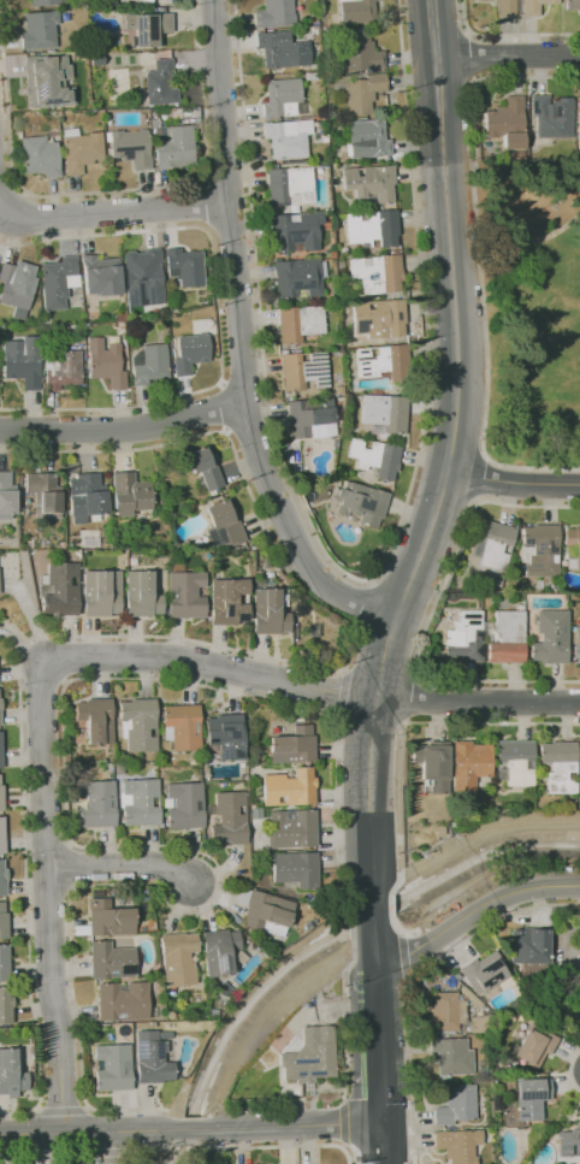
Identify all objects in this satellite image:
building: (48, 2)
building: (103, 2)
building: (573, 4)
building: (533, 6)
building: (505, 7)
building: (357, 11)
building: (274, 13)
building: (149, 28)
building: (40, 29)
road: (433, 30)
road: (508, 35)
building: (278, 49)
building: (359, 53)
road: (463, 55)
road: (507, 57)
building: (97, 59)
building: (282, 71)
building: (310, 76)
building: (48, 81)
building: (161, 83)
building: (362, 93)
building: (283, 98)
building: (60, 113)
building: (550, 120)
building: (508, 123)
building: (578, 124)
building: (325, 137)
building: (288, 138)
building: (369, 138)
building: (173, 144)
building: (131, 147)
building: (81, 149)
building: (40, 154)
building: (297, 161)
building: (320, 165)
building: (369, 184)
building: (289, 185)
road: (114, 190)
road: (206, 205)
road: (4, 207)
road: (251, 209)
road: (119, 211)
building: (374, 229)
building: (296, 230)
road: (519, 246)
road: (480, 261)
building: (187, 266)
building: (379, 274)
building: (101, 276)
building: (298, 277)
building: (143, 278)
building: (59, 282)
building: (17, 286)
building: (333, 300)
road: (422, 307)
building: (173, 311)
building: (345, 311)
park: (532, 312)
road: (217, 313)
building: (120, 317)
building: (380, 318)
building: (47, 319)
building: (160, 321)
building: (300, 323)
building: (61, 332)
road: (241, 339)
road: (457, 343)
building: (191, 353)
building: (23, 361)
building: (106, 362)
building: (150, 364)
building: (383, 365)
building: (63, 368)
building: (304, 371)
building: (339, 390)
road: (224, 394)
building: (338, 404)
building: (385, 415)
building: (312, 418)
road: (124, 429)
building: (397, 442)
building: (336, 444)
building: (344, 444)
building: (375, 456)
building: (296, 457)
building: (203, 466)
building: (372, 472)
road: (477, 478)
road: (515, 481)
building: (128, 494)
building: (42, 495)
building: (6, 496)
building: (84, 496)
building: (361, 502)
building: (225, 522)
building: (574, 543)
building: (493, 544)
building: (540, 550)
building: (59, 587)
building: (100, 592)
building: (184, 593)
building: (140, 595)
building: (226, 601)
building: (267, 611)
road: (432, 614)
building: (551, 637)
building: (466, 638)
building: (505, 638)
building: (576, 646)
road: (383, 657)
road: (308, 687)
road: (404, 693)
building: (95, 720)
road: (493, 721)
building: (137, 723)
building: (180, 726)
building: (224, 735)
building: (291, 745)
building: (0, 755)
building: (516, 762)
building: (470, 764)
building: (433, 766)
building: (560, 766)
building: (288, 787)
road: (368, 793)
building: (0, 796)
building: (137, 802)
building: (96, 804)
building: (183, 805)
building: (227, 819)
building: (291, 828)
building: (1, 834)
road: (120, 863)
building: (295, 868)
building: (2, 878)
road: (45, 897)
road: (373, 897)
road: (490, 904)
building: (267, 912)
road: (373, 915)
building: (108, 918)
building: (2, 920)
road: (374, 940)
building: (529, 946)
building: (219, 950)
road: (391, 951)
building: (111, 958)
building: (177, 958)
building: (4, 962)
building: (484, 970)
building: (579, 982)
building: (122, 1000)
building: (5, 1005)
building: (446, 1011)
road: (375, 1039)
building: (533, 1046)
building: (309, 1056)
building: (452, 1056)
building: (152, 1057)
building: (112, 1066)
building: (10, 1074)
building: (531, 1098)
building: (456, 1105)
road: (343, 1123)
road: (285, 1127)
road: (185, 1131)
road: (88, 1133)
road: (377, 1141)
building: (568, 1141)
road: (179, 1142)
road: (278, 1142)
road: (377, 1142)
building: (457, 1145)
road: (150, 1146)
road: (144, 1147)
road: (105, 1148)
road: (105, 1148)

